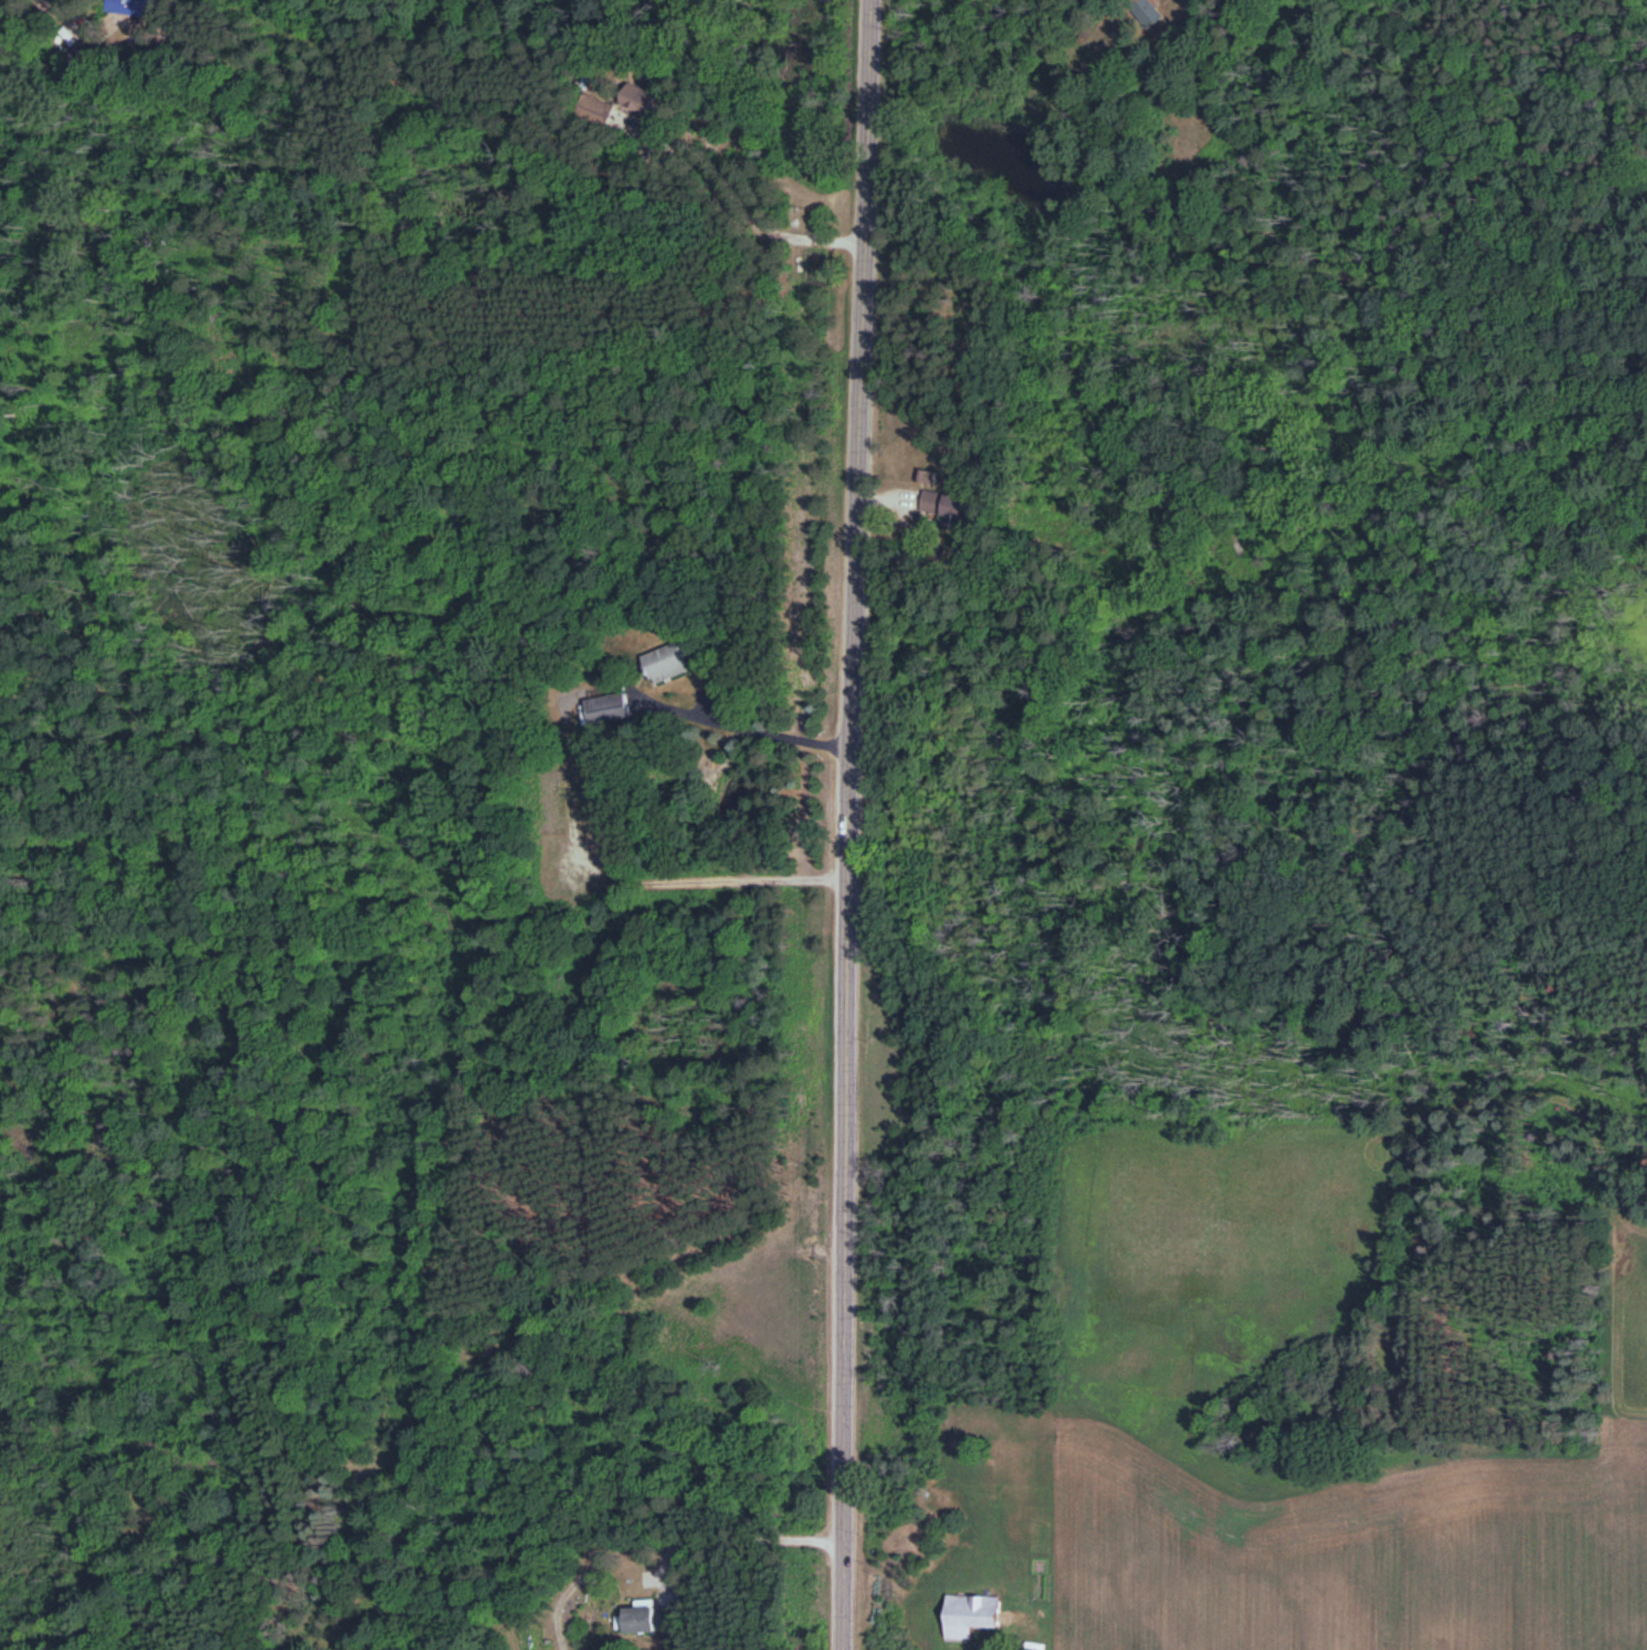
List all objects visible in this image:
building: (126, 6)
building: (1148, 10)
building: (637, 96)
building: (596, 108)
road: (732, 204)
building: (947, 506)
building: (666, 659)
road: (852, 824)
road: (728, 1535)
building: (971, 1612)
building: (651, 1616)

